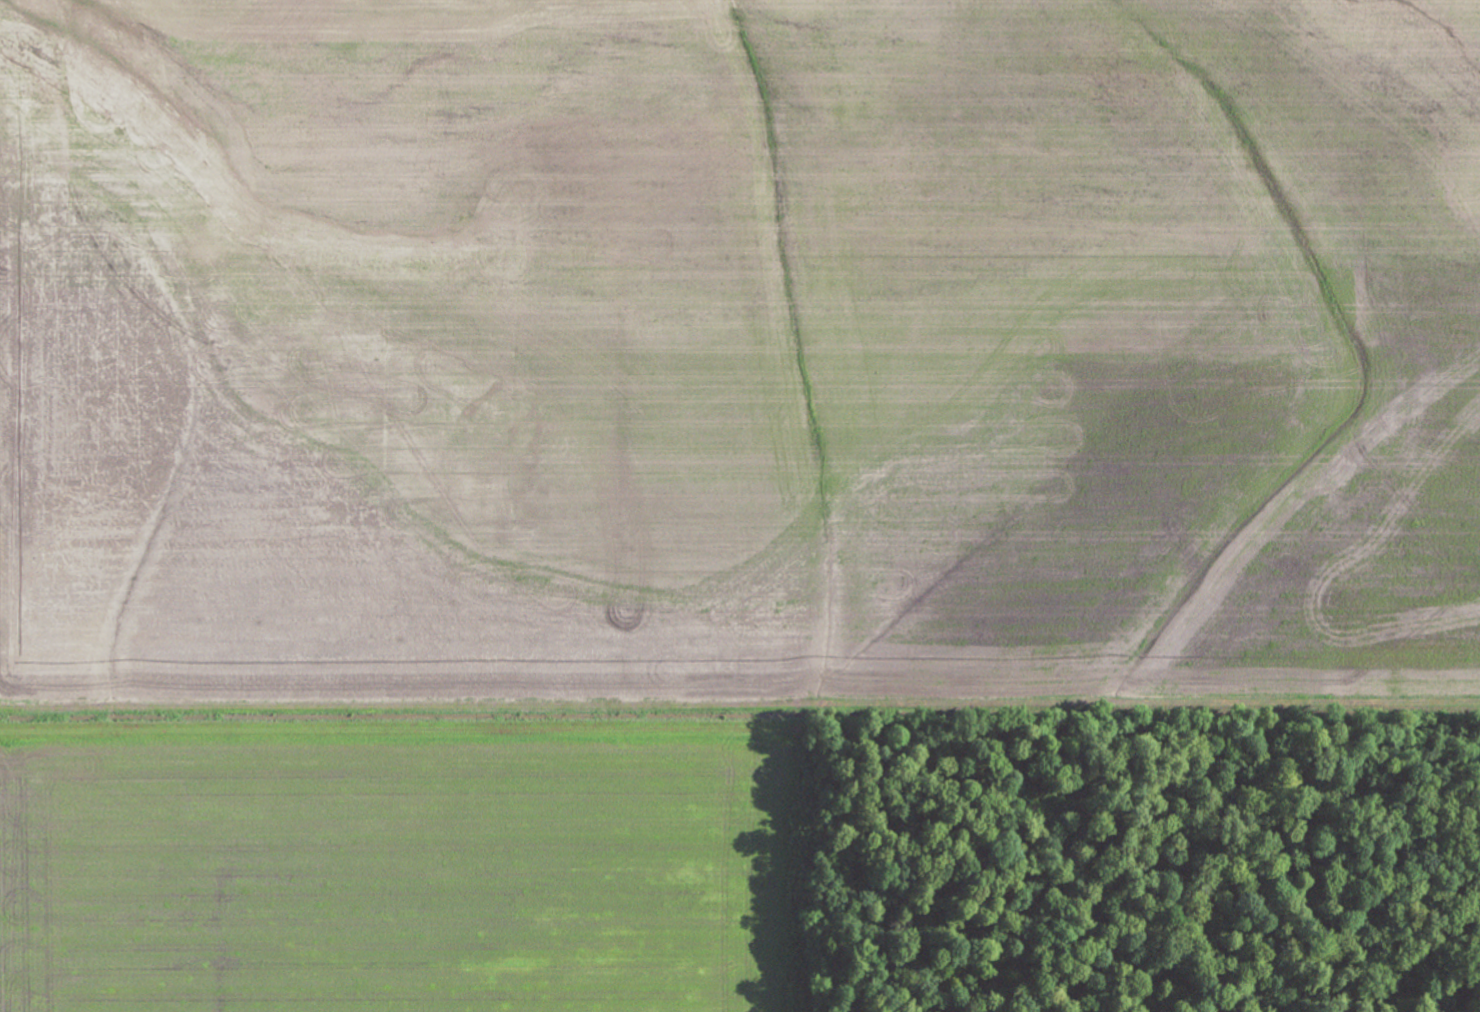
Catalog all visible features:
park: (1159, 865)

